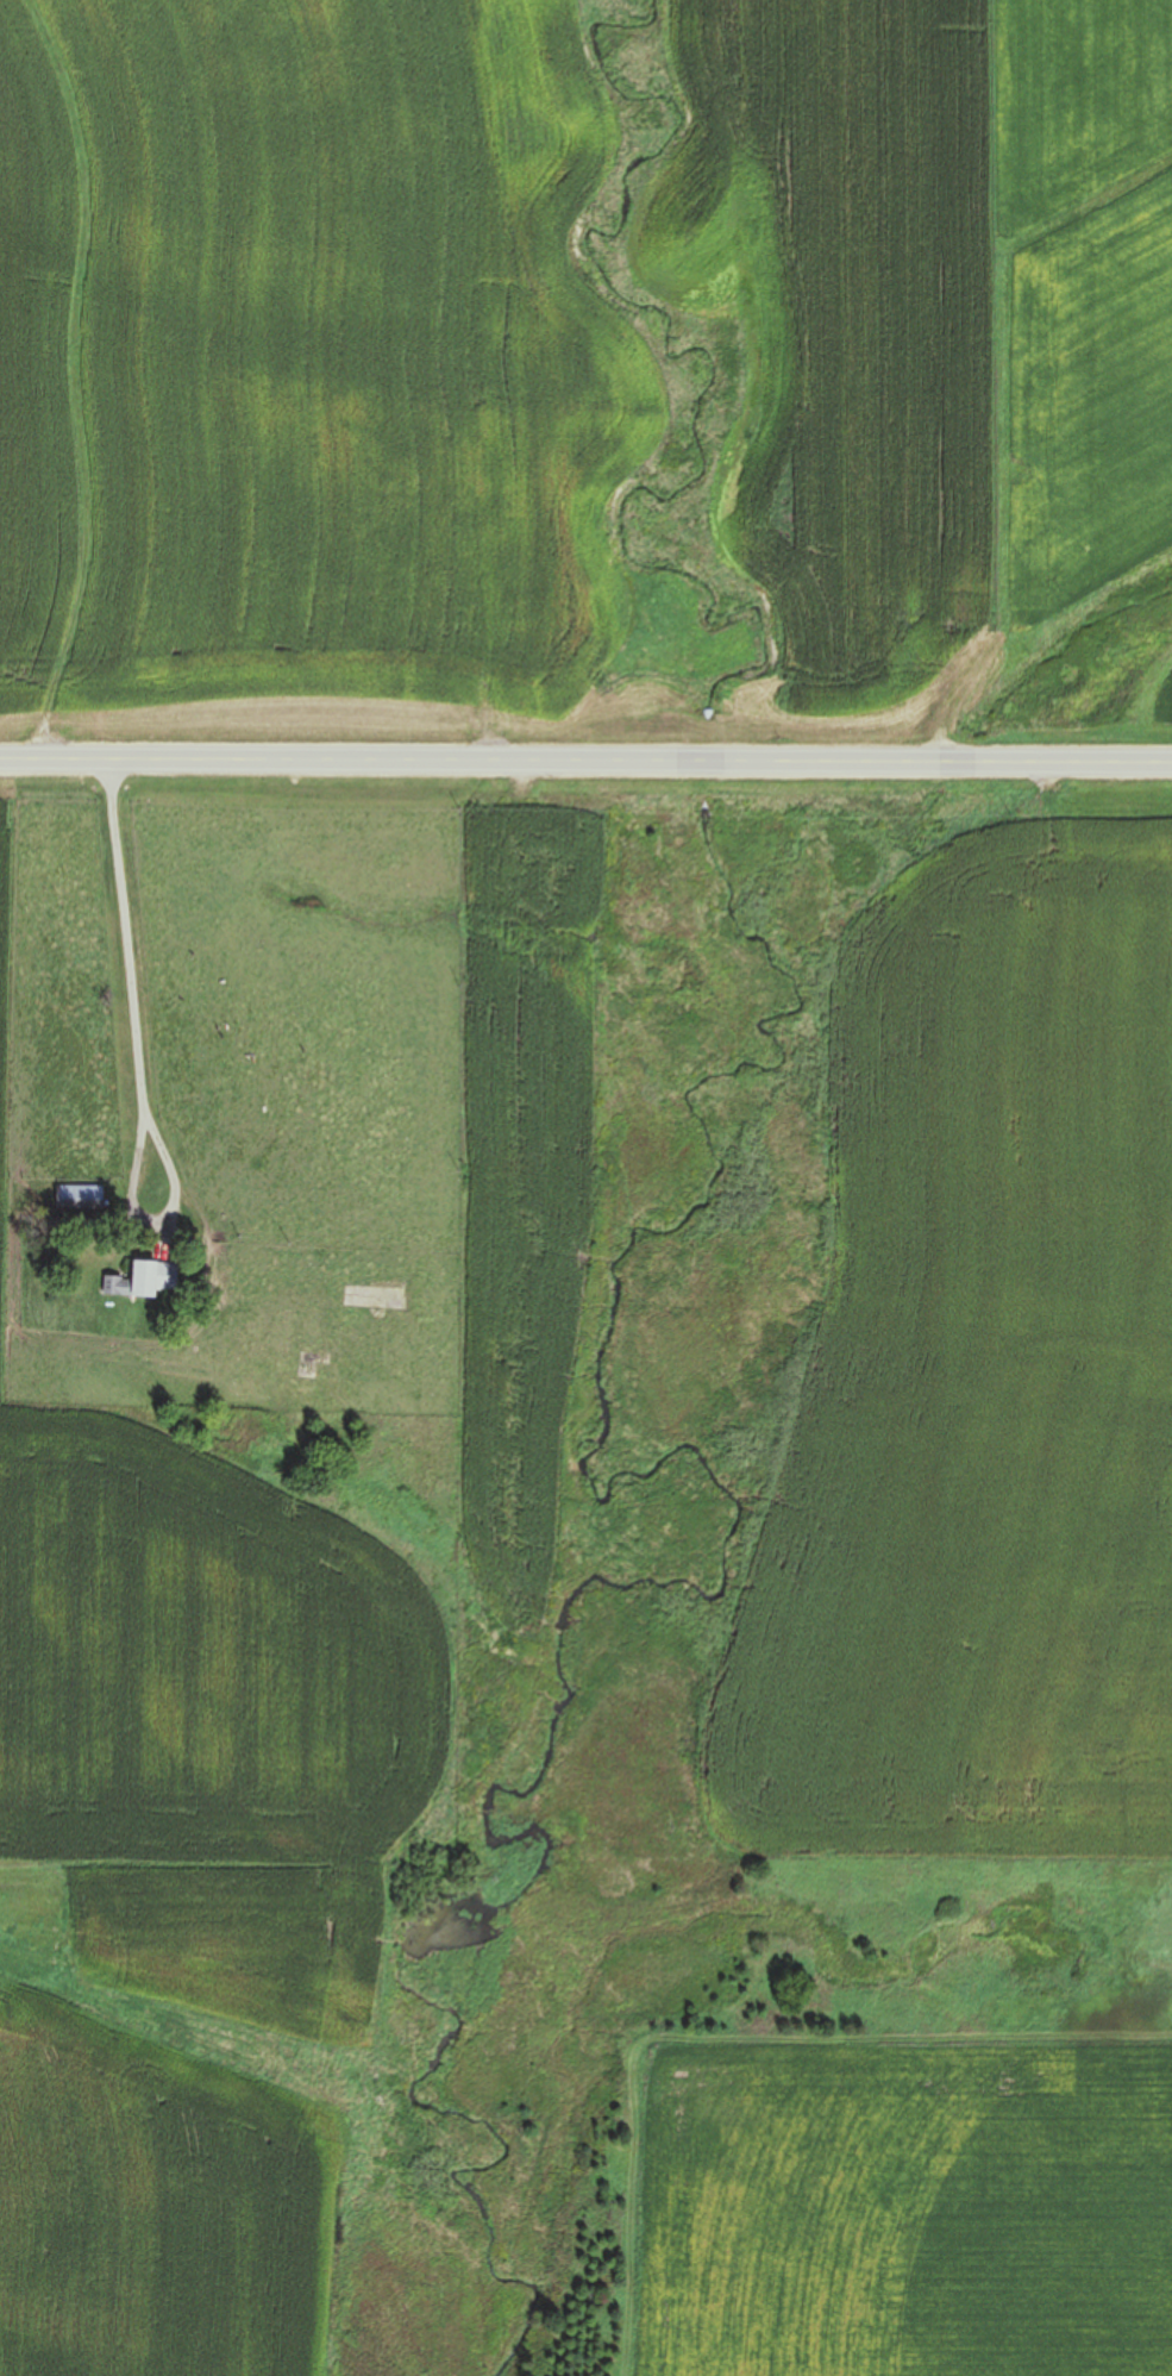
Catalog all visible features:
road: (585, 762)
road: (129, 943)
building: (77, 1198)
building: (140, 1280)

